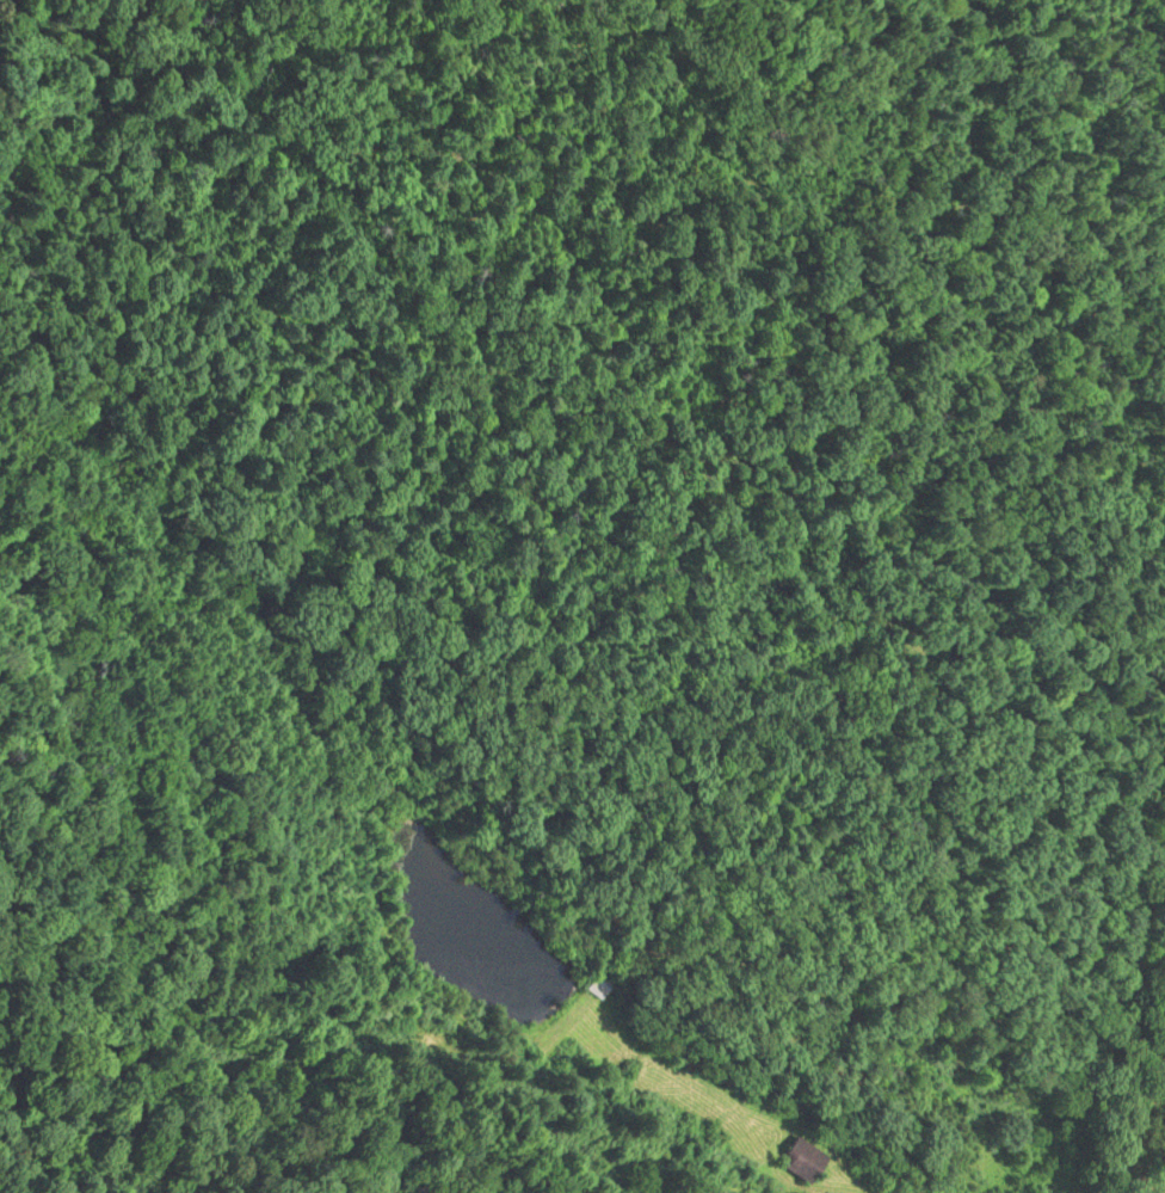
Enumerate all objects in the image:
building: (597, 984)
building: (797, 1158)

